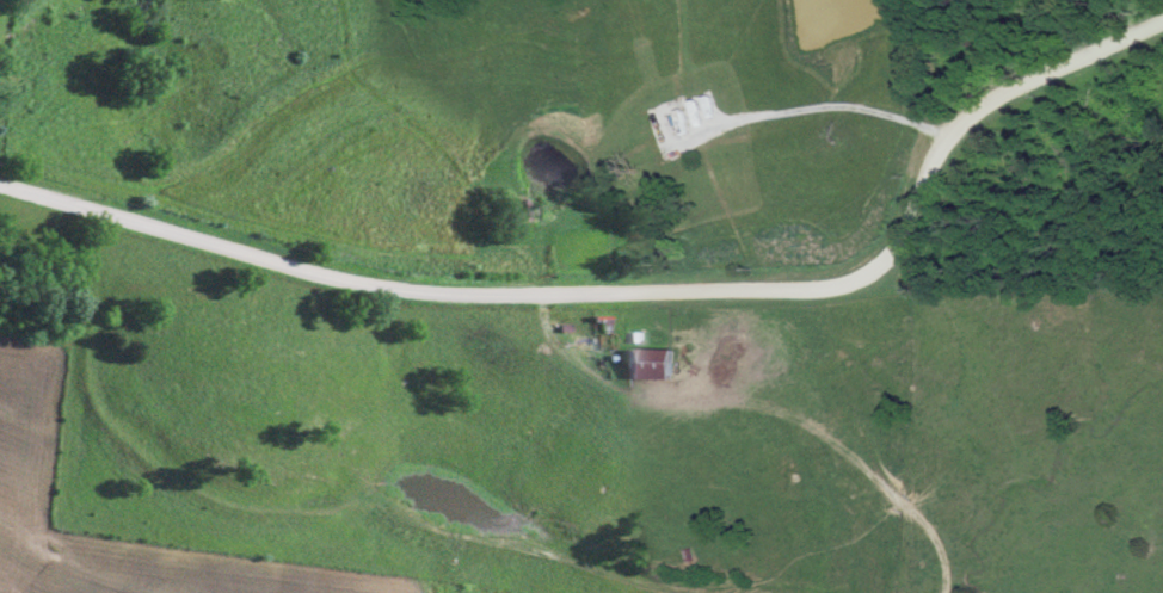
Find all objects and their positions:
road: (630, 296)
building: (650, 363)
road: (562, 373)

